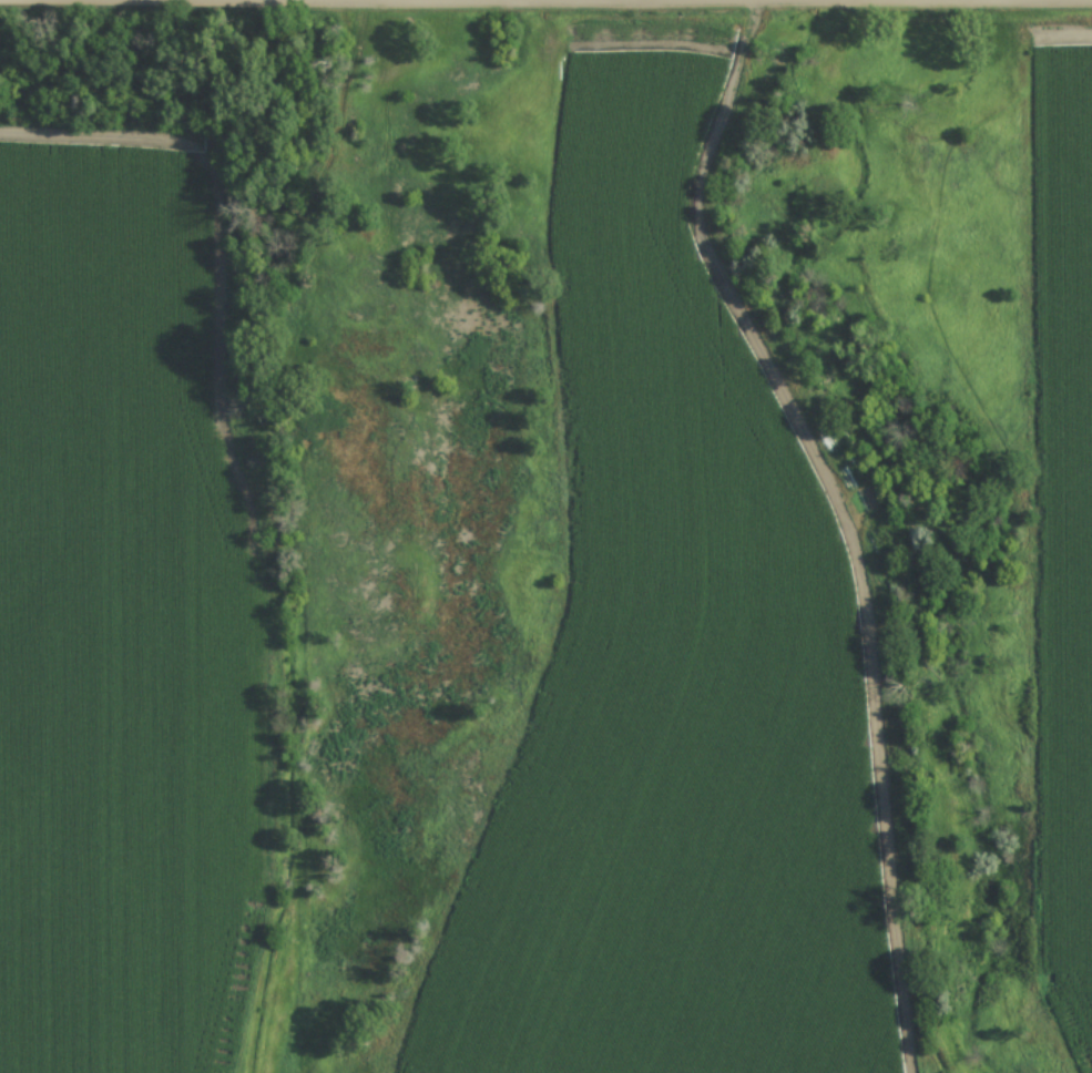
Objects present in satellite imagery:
road: (711, 0)
building: (826, 441)
building: (845, 463)
crop: (1068, 518)
crop: (120, 631)
crop: (673, 672)

